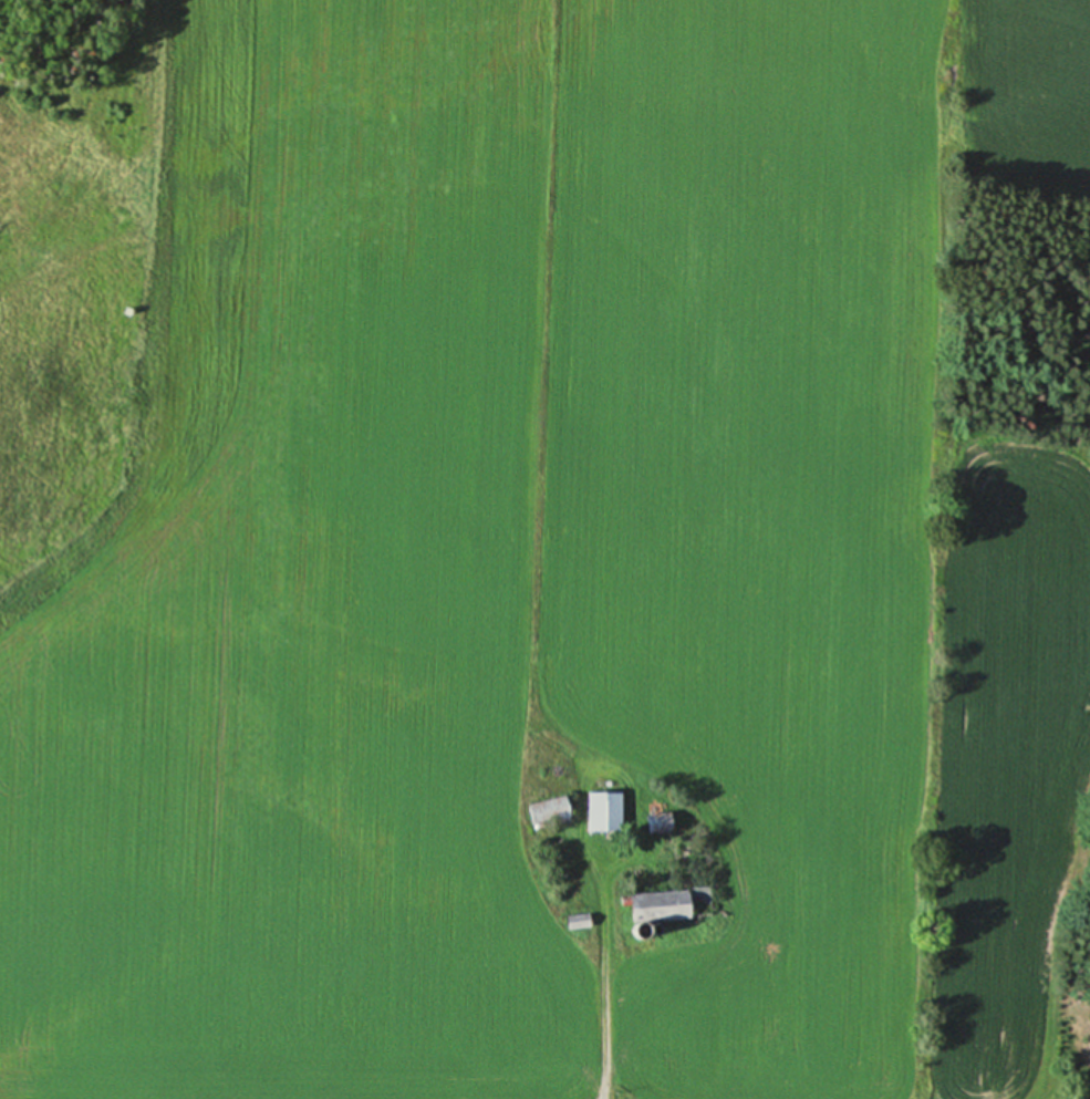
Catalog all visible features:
building: (603, 810)
building: (548, 811)
building: (658, 904)
road: (604, 1016)

